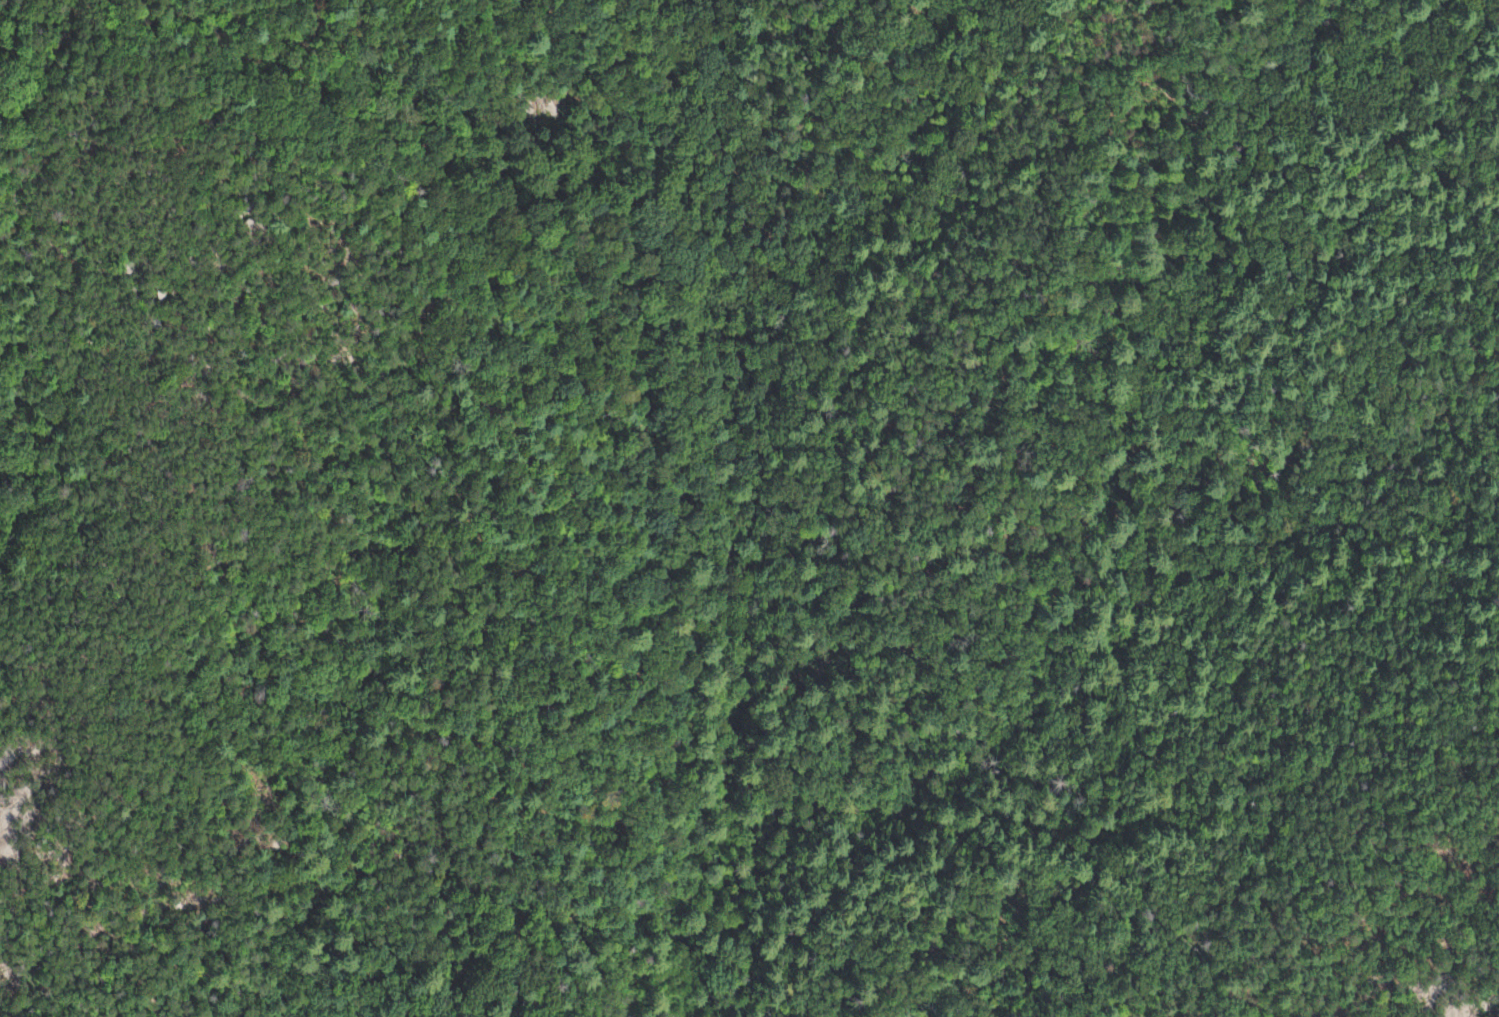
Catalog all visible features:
road: (604, 282)

